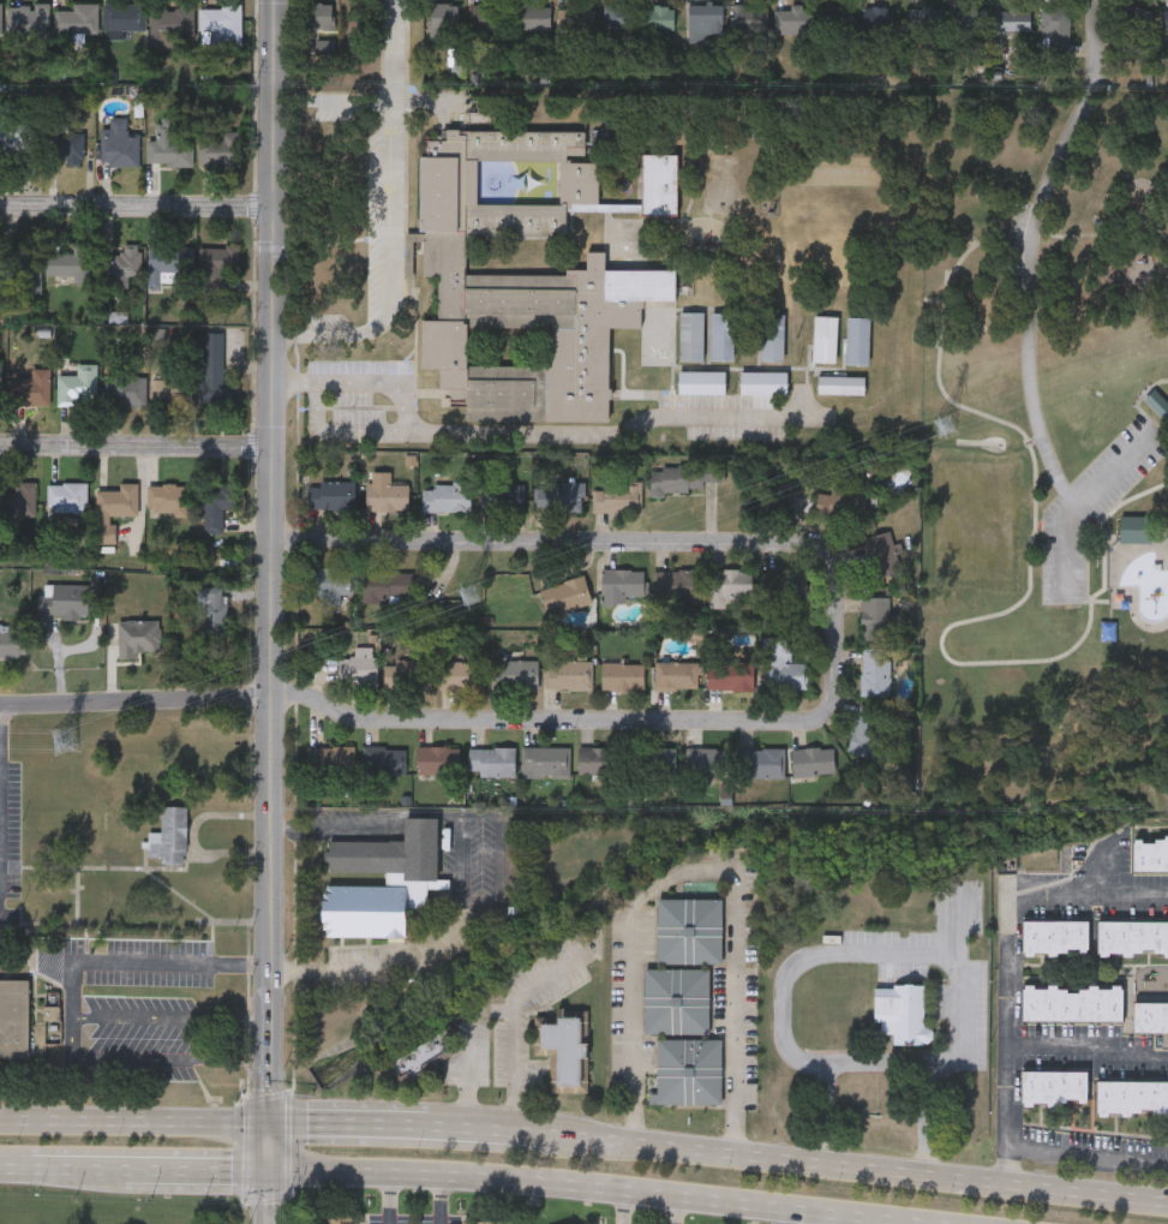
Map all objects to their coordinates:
building: (317, 14)
building: (484, 14)
building: (619, 14)
building: (124, 16)
building: (532, 16)
building: (748, 16)
building: (0, 17)
building: (78, 17)
building: (443, 17)
building: (658, 17)
building: (835, 17)
building: (876, 17)
building: (928, 17)
building: (989, 17)
building: (1137, 18)
building: (1164, 18)
building: (29, 19)
building: (792, 19)
building: (703, 20)
building: (221, 22)
building: (172, 23)
building: (1054, 24)
building: (575, 28)
road: (330, 102)
building: (16, 135)
building: (119, 142)
building: (65, 144)
building: (169, 145)
building: (221, 147)
road: (133, 207)
road: (390, 219)
road: (1030, 241)
building: (168, 259)
building: (74, 261)
building: (121, 262)
building: (217, 262)
building: (23, 263)
building: (527, 276)
building: (691, 335)
building: (721, 335)
building: (215, 365)
building: (701, 381)
road: (292, 383)
building: (78, 384)
building: (1, 386)
building: (30, 386)
building: (126, 389)
building: (173, 390)
building: (1157, 404)
power tower: (945, 425)
road: (402, 430)
road: (615, 434)
road: (133, 444)
park: (1046, 449)
building: (683, 476)
building: (330, 494)
building: (557, 495)
building: (67, 496)
building: (385, 496)
building: (444, 496)
building: (502, 496)
building: (616, 496)
building: (25, 497)
road: (1068, 497)
building: (167, 498)
road: (1077, 501)
building: (840, 502)
building: (215, 503)
parking lot: (1091, 506)
building: (114, 507)
road: (1034, 507)
building: (1136, 529)
road: (550, 543)
building: (881, 554)
building: (622, 583)
building: (729, 583)
building: (330, 584)
building: (677, 584)
building: (385, 585)
building: (783, 585)
building: (564, 595)
power tower: (469, 596)
building: (65, 601)
building: (211, 610)
road: (268, 611)
building: (875, 617)
building: (13, 640)
building: (358, 665)
building: (780, 665)
building: (407, 673)
building: (875, 673)
building: (460, 674)
building: (514, 674)
building: (568, 674)
building: (675, 674)
building: (729, 675)
building: (622, 676)
road: (133, 699)
road: (624, 722)
building: (864, 730)
power tower: (66, 742)
building: (329, 760)
building: (383, 760)
building: (436, 760)
building: (544, 760)
building: (598, 760)
building: (708, 760)
building: (811, 760)
building: (491, 762)
building: (652, 762)
building: (762, 763)
building: (49, 837)
building: (169, 837)
building: (90, 840)
building: (1150, 854)
road: (700, 866)
road: (1103, 866)
building: (411, 876)
road: (472, 876)
building: (688, 931)
building: (1055, 937)
building: (1133, 937)
road: (874, 951)
road: (1007, 955)
road: (72, 978)
building: (676, 1001)
building: (1072, 1003)
building: (903, 1011)
road: (169, 1016)
building: (1150, 1016)
building: (14, 1020)
road: (521, 1022)
building: (563, 1047)
road: (1088, 1050)
building: (418, 1055)
building: (688, 1071)
building: (1054, 1087)
building: (1132, 1097)
road: (828, 1111)
road: (133, 1117)
traffic signals: (266, 1122)
road: (348, 1123)
road: (469, 1127)
road: (531, 1132)
road: (1088, 1152)
road: (861, 1165)
road: (17, 1169)
road: (82, 1169)
road: (197, 1172)
traffic signals: (266, 1175)
road: (587, 1186)
road: (389, 1199)
road: (439, 1200)
road: (622, 1206)
road: (676, 1210)
building: (334, 1217)
road: (809, 1217)
building: (490, 1222)

